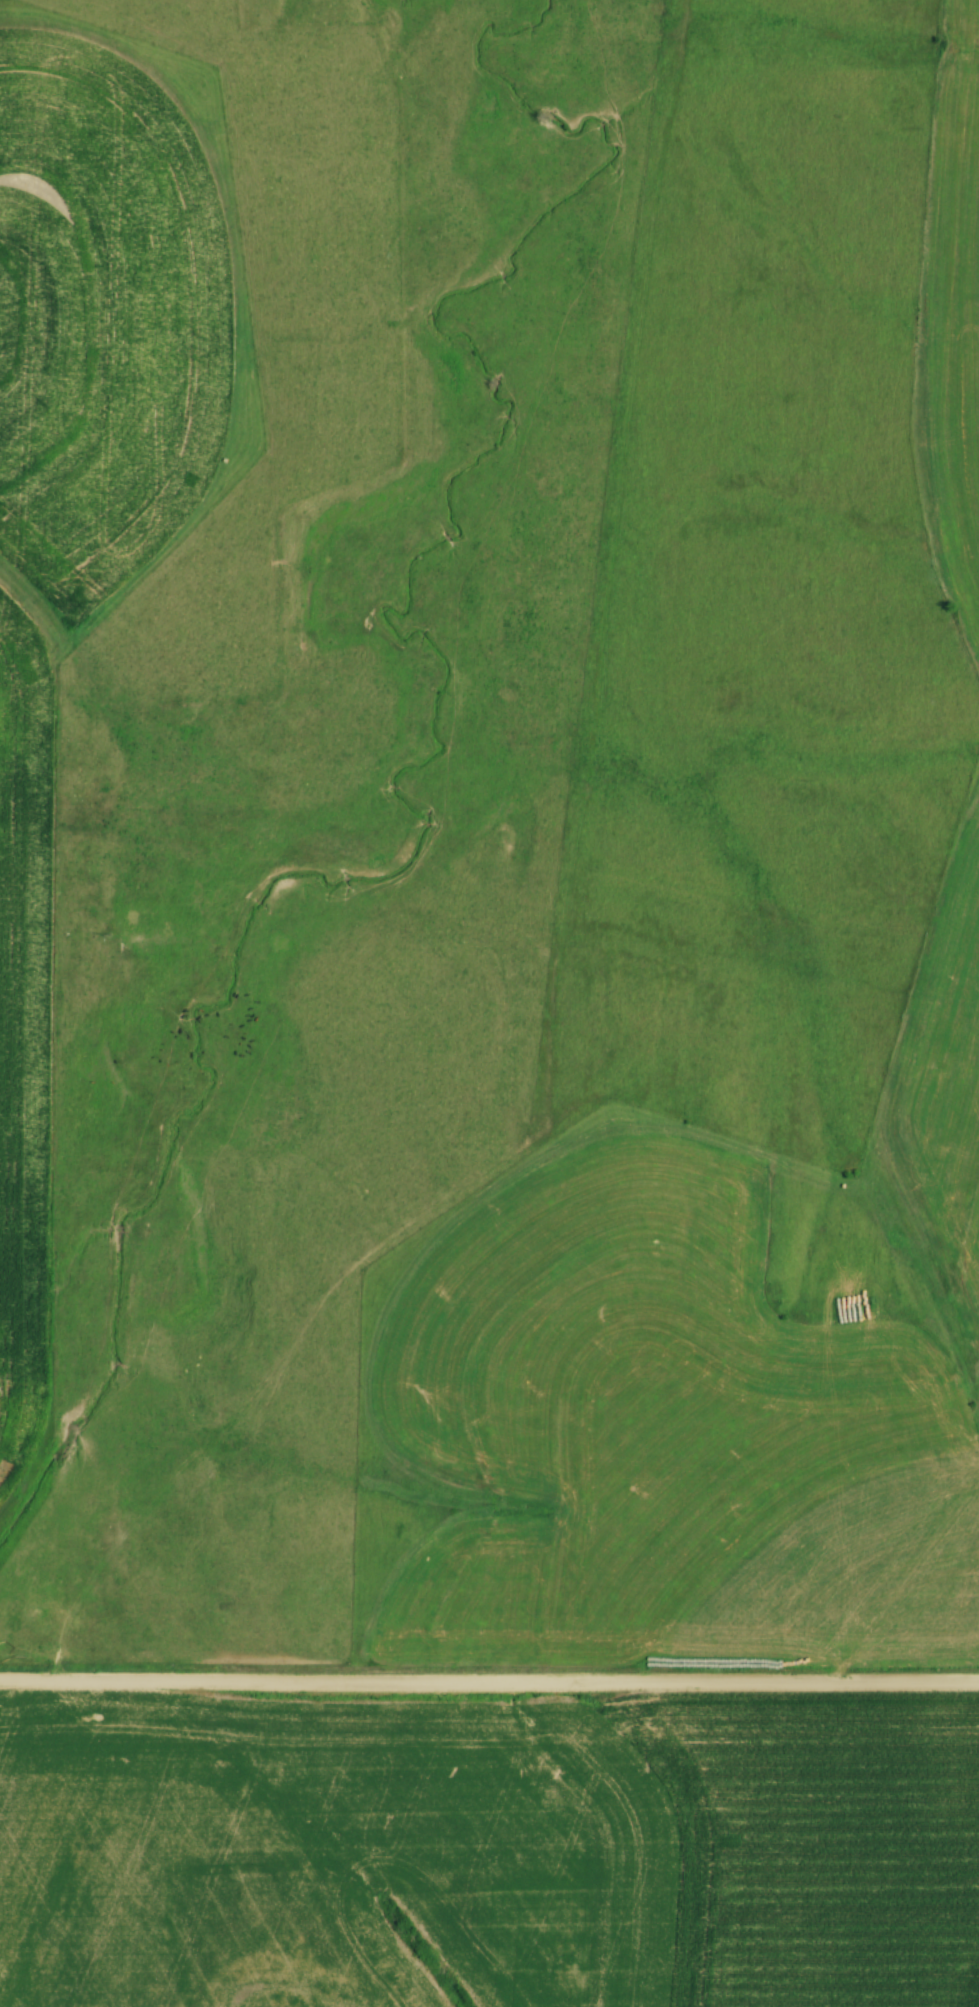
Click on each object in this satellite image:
road: (489, 1683)

